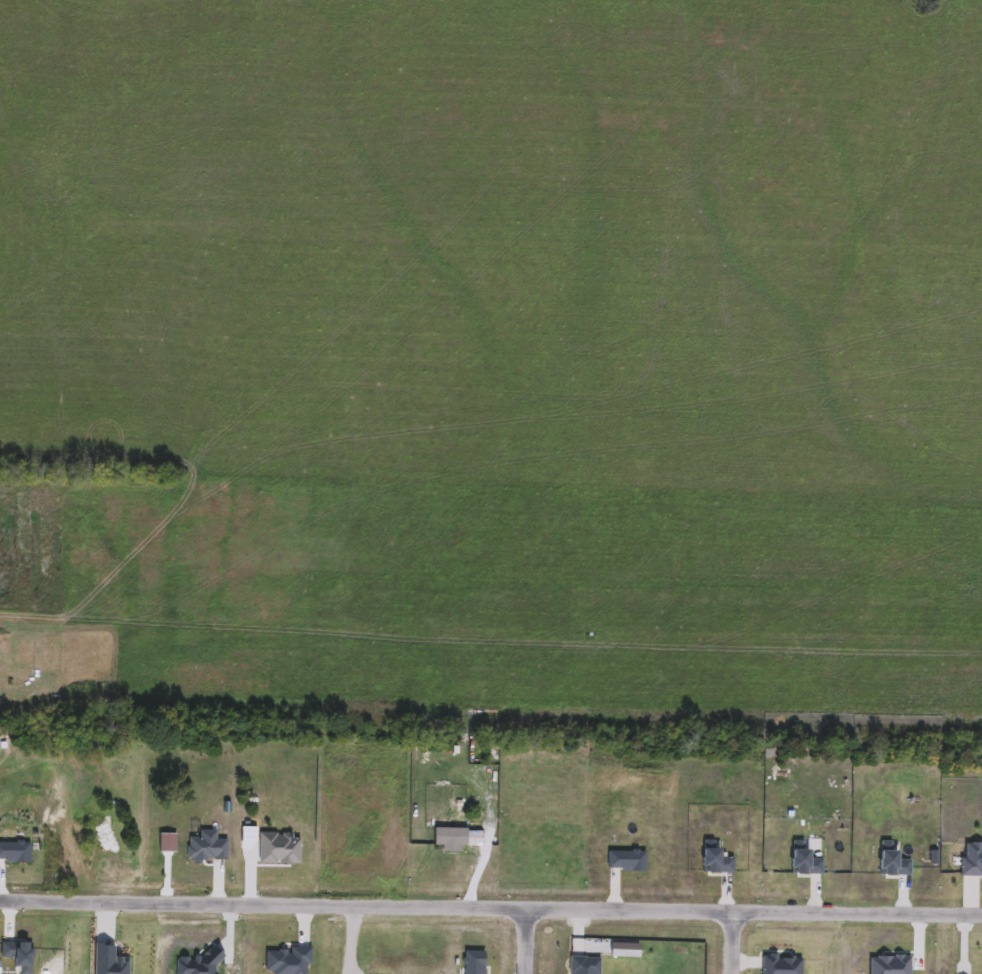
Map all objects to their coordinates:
building: (205, 850)
building: (13, 852)
building: (892, 861)
building: (626, 862)
building: (806, 863)
building: (717, 864)
road: (490, 906)
road: (523, 940)
road: (730, 942)
building: (473, 963)
building: (779, 963)
building: (582, 964)

